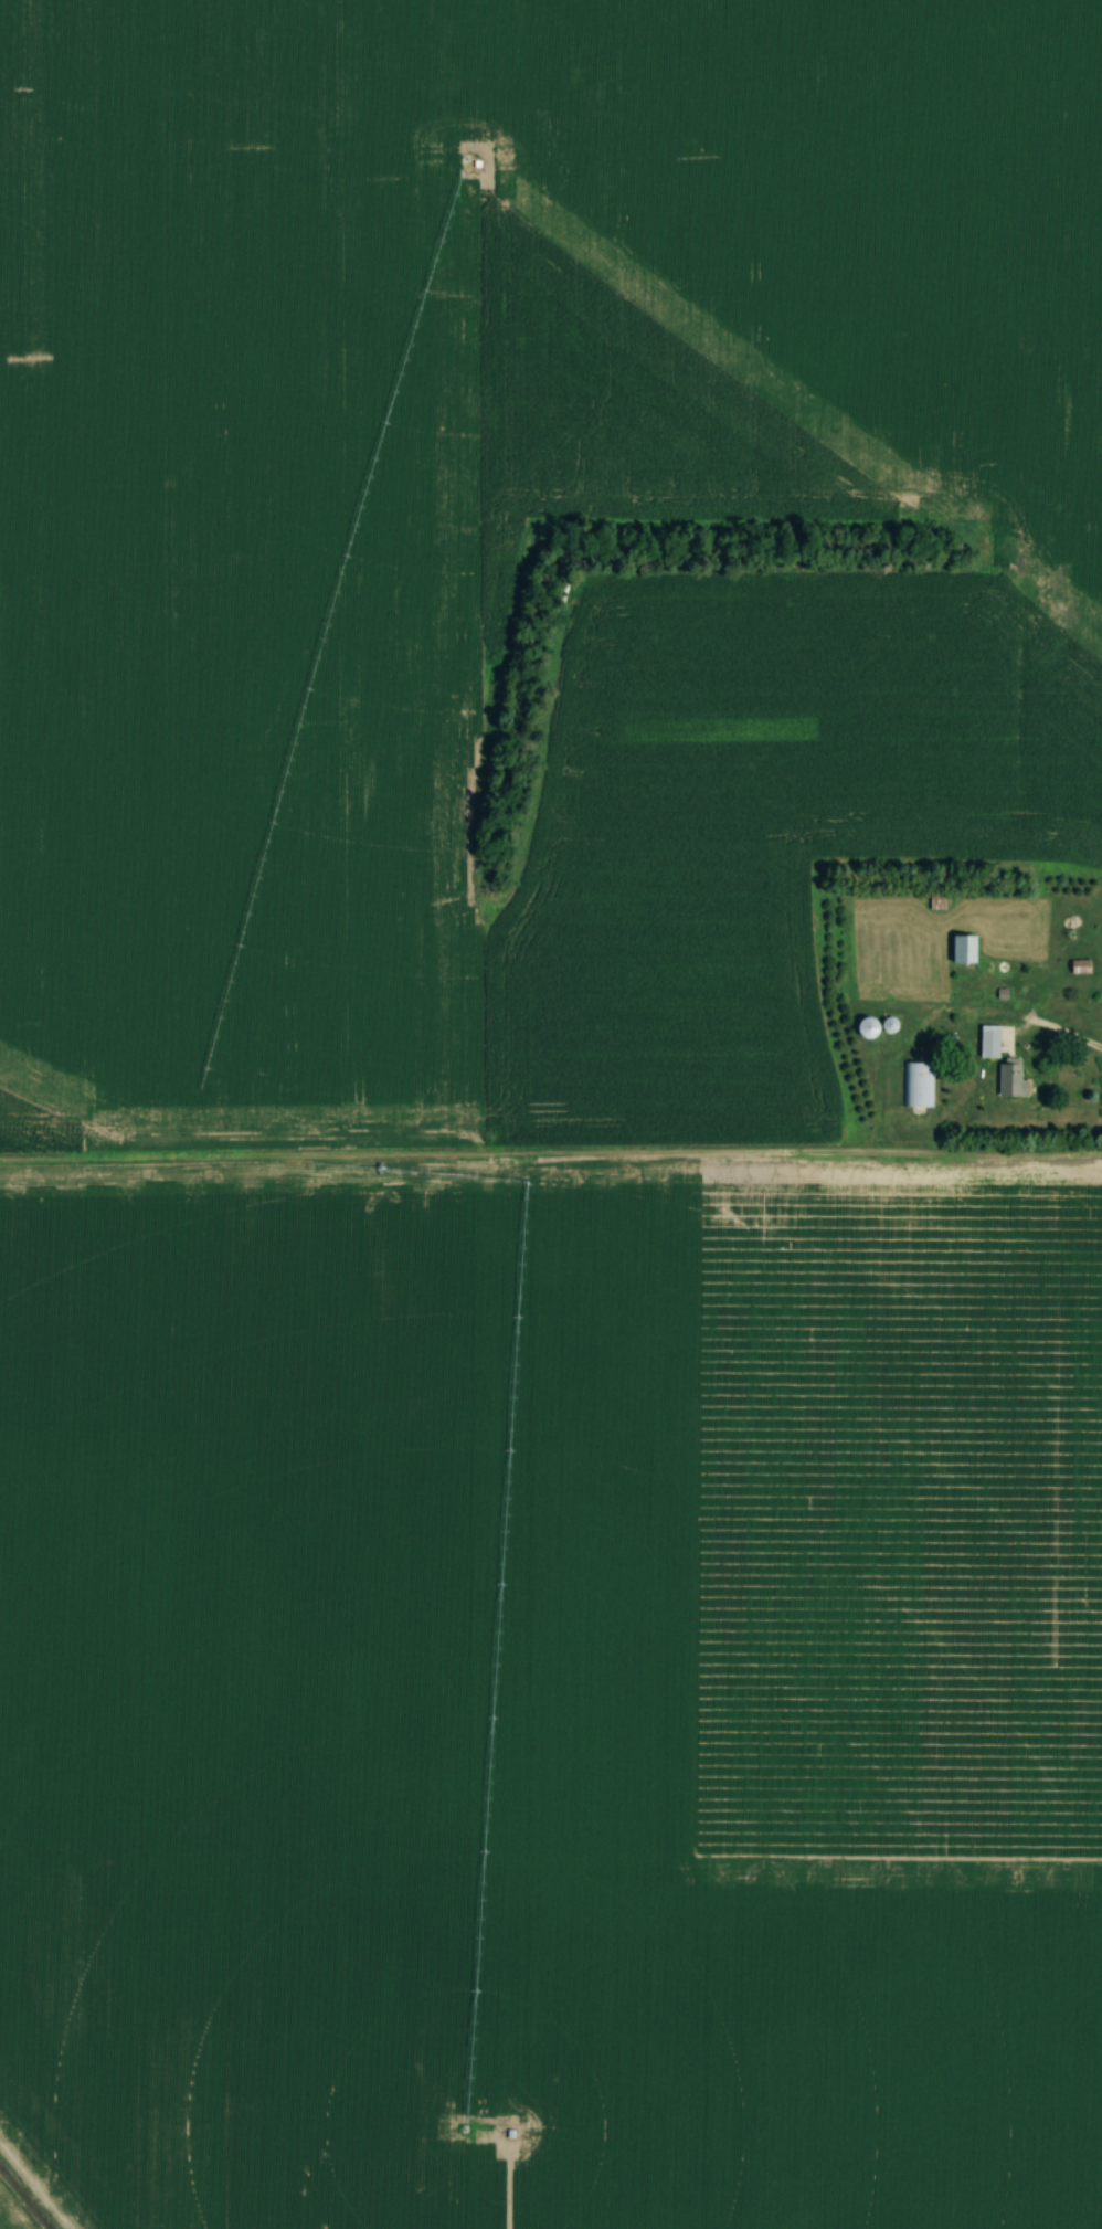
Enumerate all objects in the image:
building: (962, 949)
building: (1079, 965)
building: (867, 1027)
road: (1056, 1032)
building: (988, 1040)
building: (1010, 1079)
building: (915, 1084)

